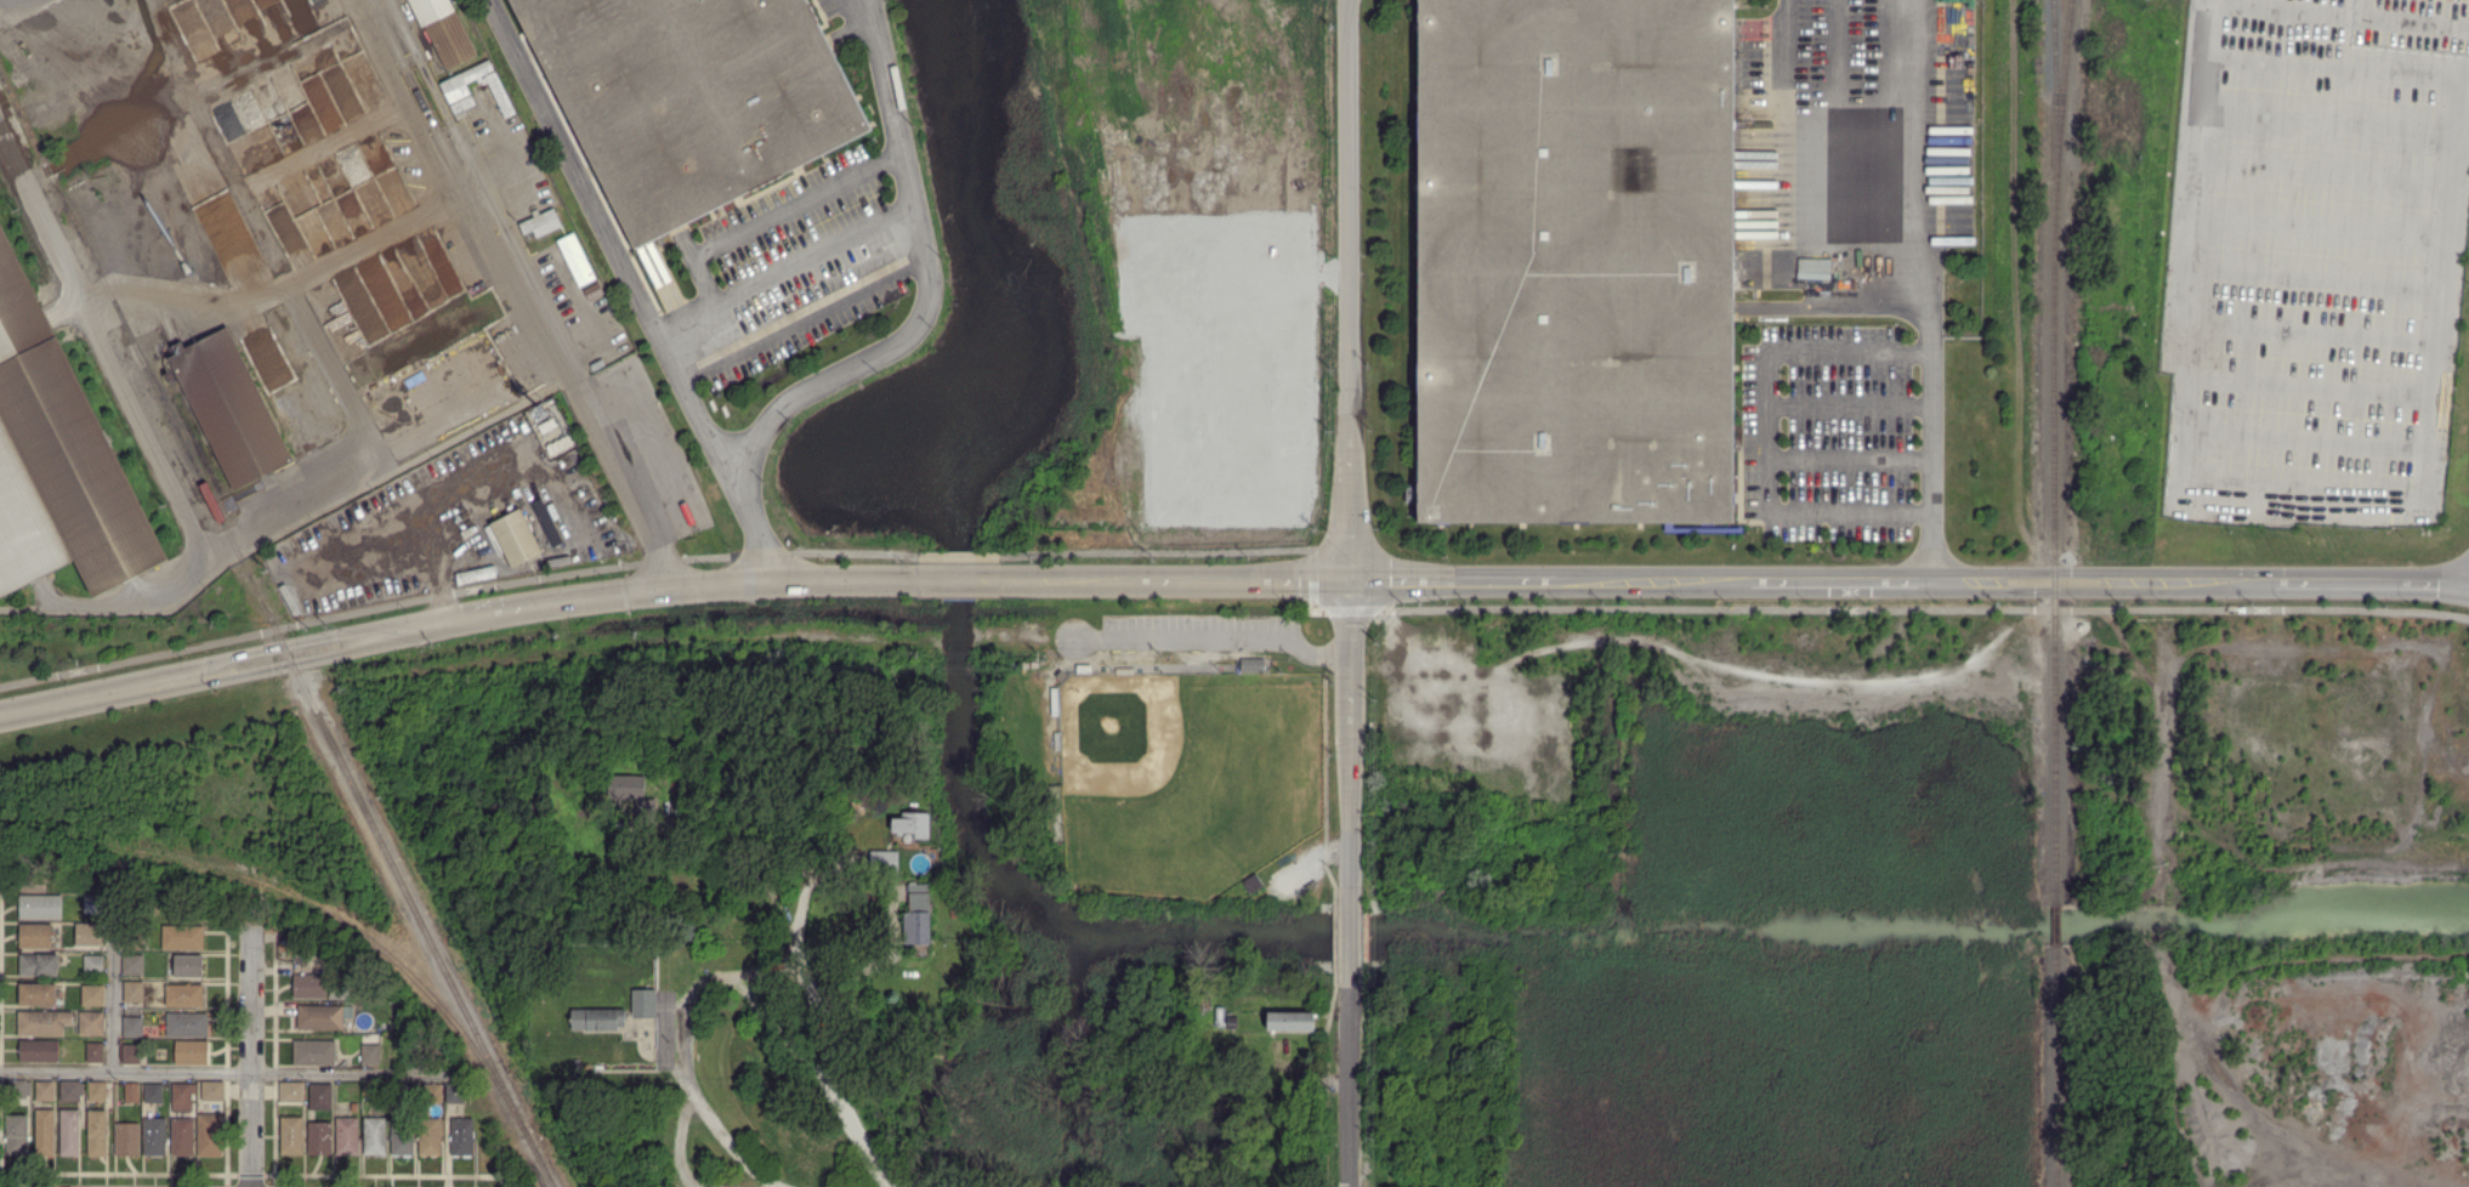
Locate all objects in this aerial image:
parking lot: (831, 7)
road: (2335, 15)
road: (864, 30)
building: (450, 40)
road: (1837, 58)
road: (2331, 66)
railway: (2056, 87)
building: (456, 89)
building: (688, 96)
building: (464, 104)
road: (1797, 117)
road: (2327, 119)
road: (895, 129)
road: (2322, 172)
road: (773, 217)
building: (541, 223)
road: (2317, 226)
parking lot: (2315, 260)
building: (1576, 261)
building: (578, 262)
building: (1814, 268)
road: (785, 269)
parking lot: (789, 269)
road: (2314, 278)
road: (276, 289)
road: (637, 289)
road: (1928, 290)
road: (513, 293)
road: (804, 319)
road: (2309, 331)
road: (835, 373)
road: (119, 384)
road: (2309, 385)
road: (1848, 407)
building: (231, 408)
road: (1767, 428)
parking lot: (1829, 432)
road: (2304, 438)
road: (1349, 444)
railway: (2054, 451)
building: (58, 458)
road: (368, 458)
road: (1849, 459)
road: (2310, 479)
building: (544, 519)
building: (516, 538)
road: (1157, 551)
road: (961, 558)
road: (1312, 579)
road: (1735, 579)
road: (960, 581)
road: (456, 591)
railway: (262, 602)
road: (1345, 609)
road: (1924, 609)
road: (455, 619)
parking lot: (1199, 631)
road: (1214, 638)
building: (1253, 666)
building: (1084, 669)
building: (1124, 671)
building: (1062, 676)
building: (1055, 702)
building: (1057, 742)
park: (1187, 778)
building: (629, 786)
building: (647, 803)
building: (913, 825)
building: (884, 863)
building: (845, 882)
building: (1253, 885)
building: (95, 903)
building: (40, 907)
road: (781, 915)
building: (918, 919)
railway: (353, 925)
railway: (2057, 925)
building: (685, 928)
building: (93, 932)
building: (36, 935)
building: (183, 937)
building: (134, 938)
road: (1351, 938)
building: (40, 964)
building: (92, 964)
building: (132, 964)
building: (189, 965)
road: (113, 983)
building: (308, 986)
building: (339, 988)
building: (872, 989)
building: (134, 992)
building: (38, 994)
building: (185, 994)
building: (91, 995)
building: (1202, 1001)
building: (642, 1004)
building: (324, 1017)
building: (597, 1020)
building: (42, 1022)
building: (1231, 1022)
building: (1290, 1022)
building: (92, 1023)
building: (187, 1024)
building: (132, 1026)
building: (370, 1049)
building: (38, 1051)
building: (95, 1052)
building: (192, 1052)
road: (250, 1052)
building: (313, 1052)
building: (131, 1053)
railway: (2057, 1066)
road: (223, 1069)
road: (688, 1081)
road: (828, 1085)
road: (1351, 1086)
building: (15, 1090)
building: (69, 1090)
building: (44, 1091)
building: (97, 1091)
building: (211, 1091)
building: (132, 1092)
building: (182, 1092)
building: (290, 1092)
building: (320, 1092)
building: (432, 1092)
building: (153, 1094)
building: (405, 1094)
building: (454, 1094)
building: (352, 1104)
building: (17, 1132)
building: (45, 1132)
building: (69, 1132)
building: (97, 1132)
building: (210, 1135)
building: (293, 1135)
building: (347, 1135)
building: (374, 1135)
building: (402, 1135)
building: (154, 1136)
building: (182, 1136)
building: (430, 1137)
building: (126, 1138)
building: (318, 1138)
building: (465, 1138)
road: (727, 1140)
railway: (540, 1159)

